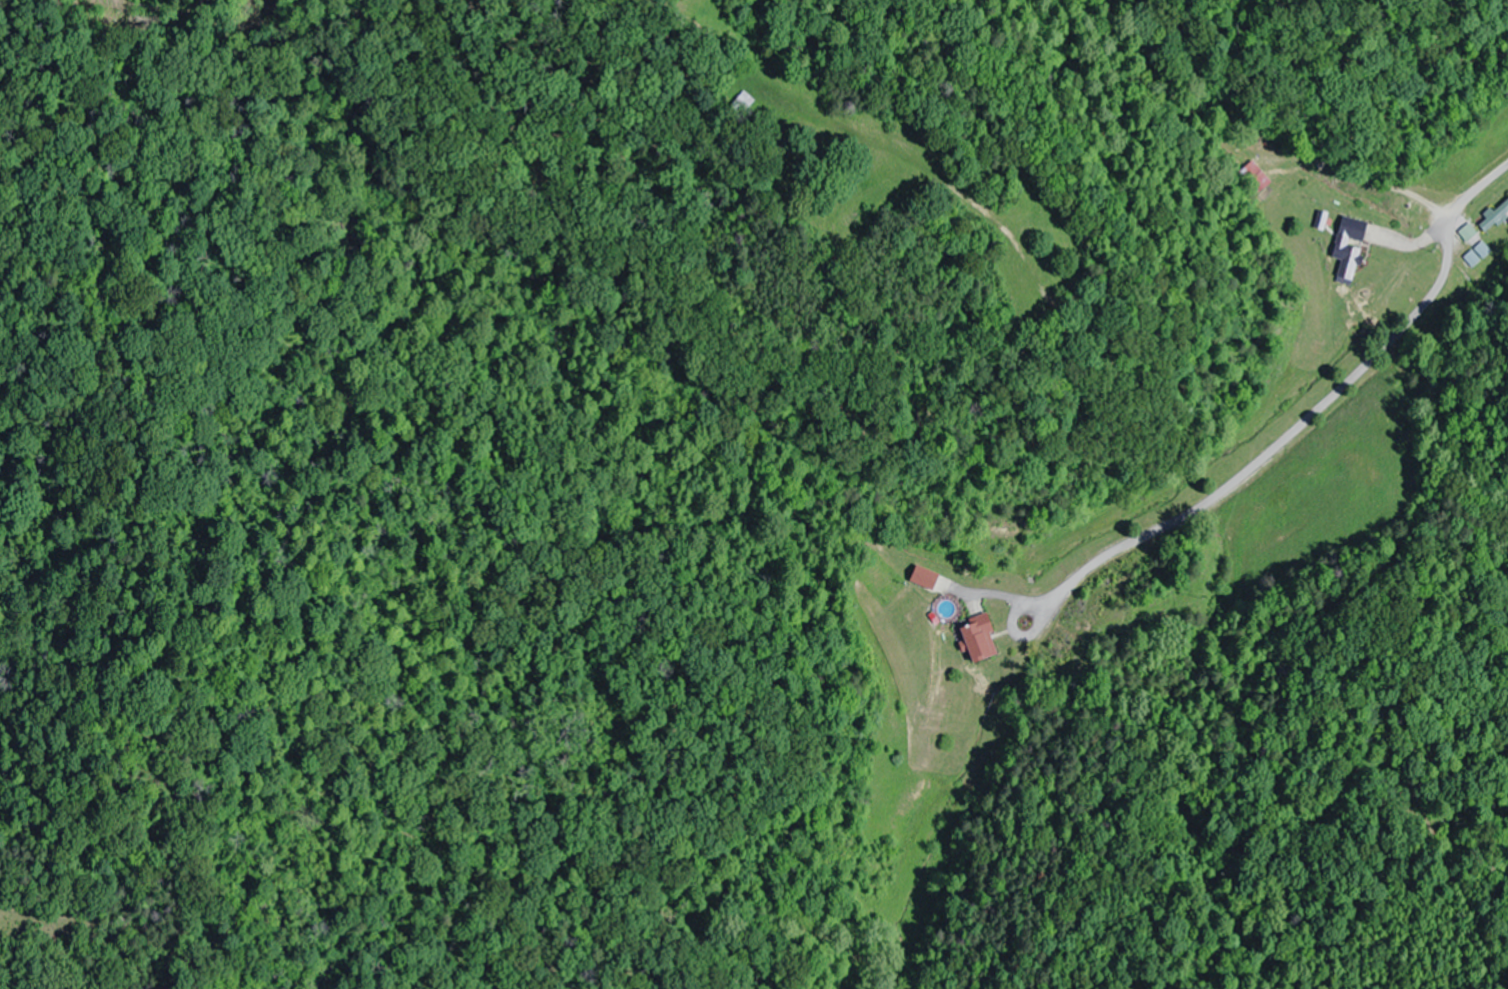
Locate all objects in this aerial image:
building: (1467, 232)
building: (1348, 243)
building: (1475, 254)
road: (1318, 408)
road: (1042, 599)
building: (979, 637)

